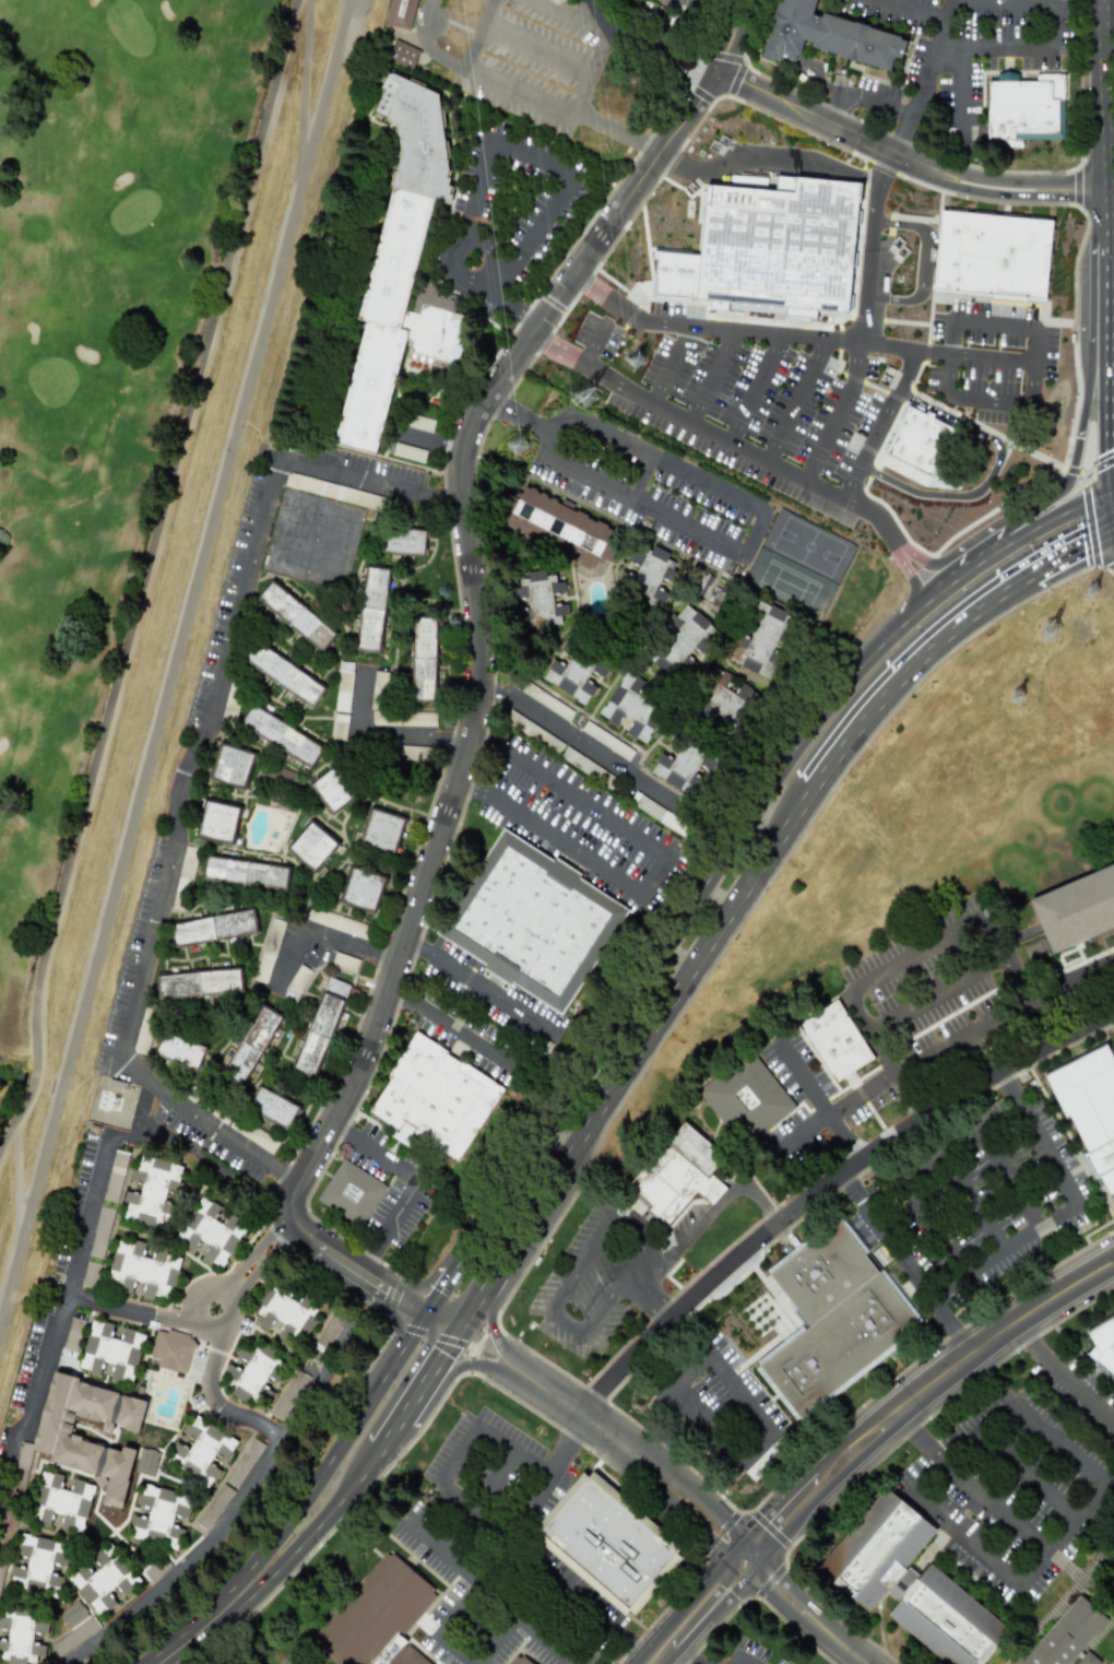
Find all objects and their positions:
road: (854, 1)
building: (684, 2)
road: (914, 10)
building: (400, 13)
road: (569, 14)
road: (452, 25)
road: (478, 34)
road: (732, 35)
building: (828, 36)
road: (632, 40)
road: (426, 44)
road: (1019, 47)
road: (535, 49)
building: (402, 55)
road: (683, 55)
road: (594, 56)
road: (678, 64)
road: (706, 69)
road: (923, 78)
road: (325, 84)
road: (958, 90)
road: (519, 95)
building: (1027, 107)
road: (1106, 114)
road: (618, 130)
road: (532, 156)
road: (769, 163)
road: (484, 248)
building: (774, 253)
road: (509, 260)
building: (996, 260)
road: (926, 264)
road: (453, 265)
building: (401, 267)
road: (495, 279)
road: (1110, 283)
road: (512, 309)
road: (713, 329)
road: (560, 346)
road: (927, 350)
power tower: (637, 361)
road: (1110, 361)
road: (597, 370)
park: (95, 374)
road: (715, 376)
road: (755, 388)
road: (798, 400)
power tower: (592, 402)
road: (993, 402)
road: (840, 411)
building: (420, 423)
road: (884, 424)
road: (714, 430)
road: (1111, 430)
building: (922, 442)
power tower: (521, 451)
building: (408, 452)
road: (1077, 469)
road: (989, 473)
building: (334, 492)
road: (465, 508)
road: (162, 518)
building: (557, 524)
road: (1021, 534)
road: (896, 536)
road: (1078, 541)
building: (403, 542)
road: (724, 552)
road: (971, 557)
park: (798, 567)
building: (650, 576)
power tower: (1092, 592)
building: (542, 598)
building: (371, 610)
building: (295, 615)
road: (182, 623)
power tower: (1056, 632)
building: (683, 640)
building: (760, 640)
building: (422, 658)
road: (906, 664)
building: (574, 672)
building: (283, 674)
building: (343, 686)
building: (378, 691)
building: (726, 698)
power tower: (1021, 698)
building: (546, 700)
building: (631, 708)
building: (339, 727)
road: (381, 732)
building: (281, 735)
building: (599, 735)
road: (581, 736)
building: (413, 753)
building: (232, 766)
building: (683, 767)
road: (189, 770)
building: (332, 789)
road: (570, 791)
building: (217, 822)
building: (381, 831)
road: (548, 837)
building: (310, 847)
building: (187, 865)
building: (246, 874)
road: (652, 877)
building: (362, 889)
building: (1076, 908)
road: (679, 916)
building: (532, 921)
building: (336, 922)
building: (213, 929)
road: (349, 943)
building: (268, 949)
road: (288, 957)
building: (344, 963)
road: (1018, 977)
road: (1071, 978)
road: (689, 981)
building: (296, 982)
building: (198, 983)
road: (482, 988)
road: (453, 1024)
road: (865, 1025)
building: (144, 1029)
building: (319, 1029)
building: (835, 1041)
building: (247, 1049)
building: (180, 1052)
road: (27, 1094)
building: (434, 1099)
building: (746, 1099)
road: (818, 1101)
building: (271, 1108)
building: (1090, 1109)
road: (372, 1149)
building: (676, 1172)
building: (115, 1176)
road: (826, 1187)
building: (152, 1192)
building: (352, 1192)
road: (970, 1204)
road: (1024, 1205)
road: (716, 1206)
building: (917, 1212)
road: (17, 1214)
road: (82, 1216)
road: (386, 1224)
building: (211, 1231)
building: (100, 1232)
road: (523, 1241)
road: (252, 1252)
road: (591, 1258)
road: (906, 1264)
road: (958, 1264)
road: (261, 1266)
building: (143, 1270)
building: (90, 1275)
road: (948, 1286)
road: (432, 1291)
road: (121, 1309)
building: (287, 1313)
road: (461, 1314)
building: (832, 1319)
road: (189, 1322)
building: (73, 1334)
road: (496, 1336)
building: (1102, 1347)
building: (171, 1350)
building: (111, 1352)
building: (254, 1372)
road: (1063, 1374)
road: (317, 1382)
road: (399, 1388)
road: (211, 1391)
road: (919, 1395)
road: (429, 1396)
road: (757, 1420)
road: (676, 1426)
road: (485, 1432)
building: (57, 1439)
road: (1054, 1441)
road: (959, 1449)
building: (201, 1450)
road: (631, 1456)
building: (763, 1460)
building: (146, 1462)
building: (244, 1462)
road: (552, 1464)
road: (1026, 1473)
road: (968, 1483)
building: (61, 1502)
building: (214, 1507)
building: (159, 1517)
road: (1067, 1520)
road: (965, 1536)
building: (609, 1538)
road: (192, 1561)
building: (38, 1566)
road: (275, 1566)
building: (103, 1579)
building: (910, 1583)
road: (463, 1596)
road: (595, 1609)
road: (697, 1609)
road: (804, 1612)
building: (72, 1614)
building: (378, 1616)
road: (521, 1628)
building: (21, 1636)
building: (74, 1636)
building: (1068, 1636)
road: (683, 1653)
building: (515, 1660)
road: (736, 1663)

